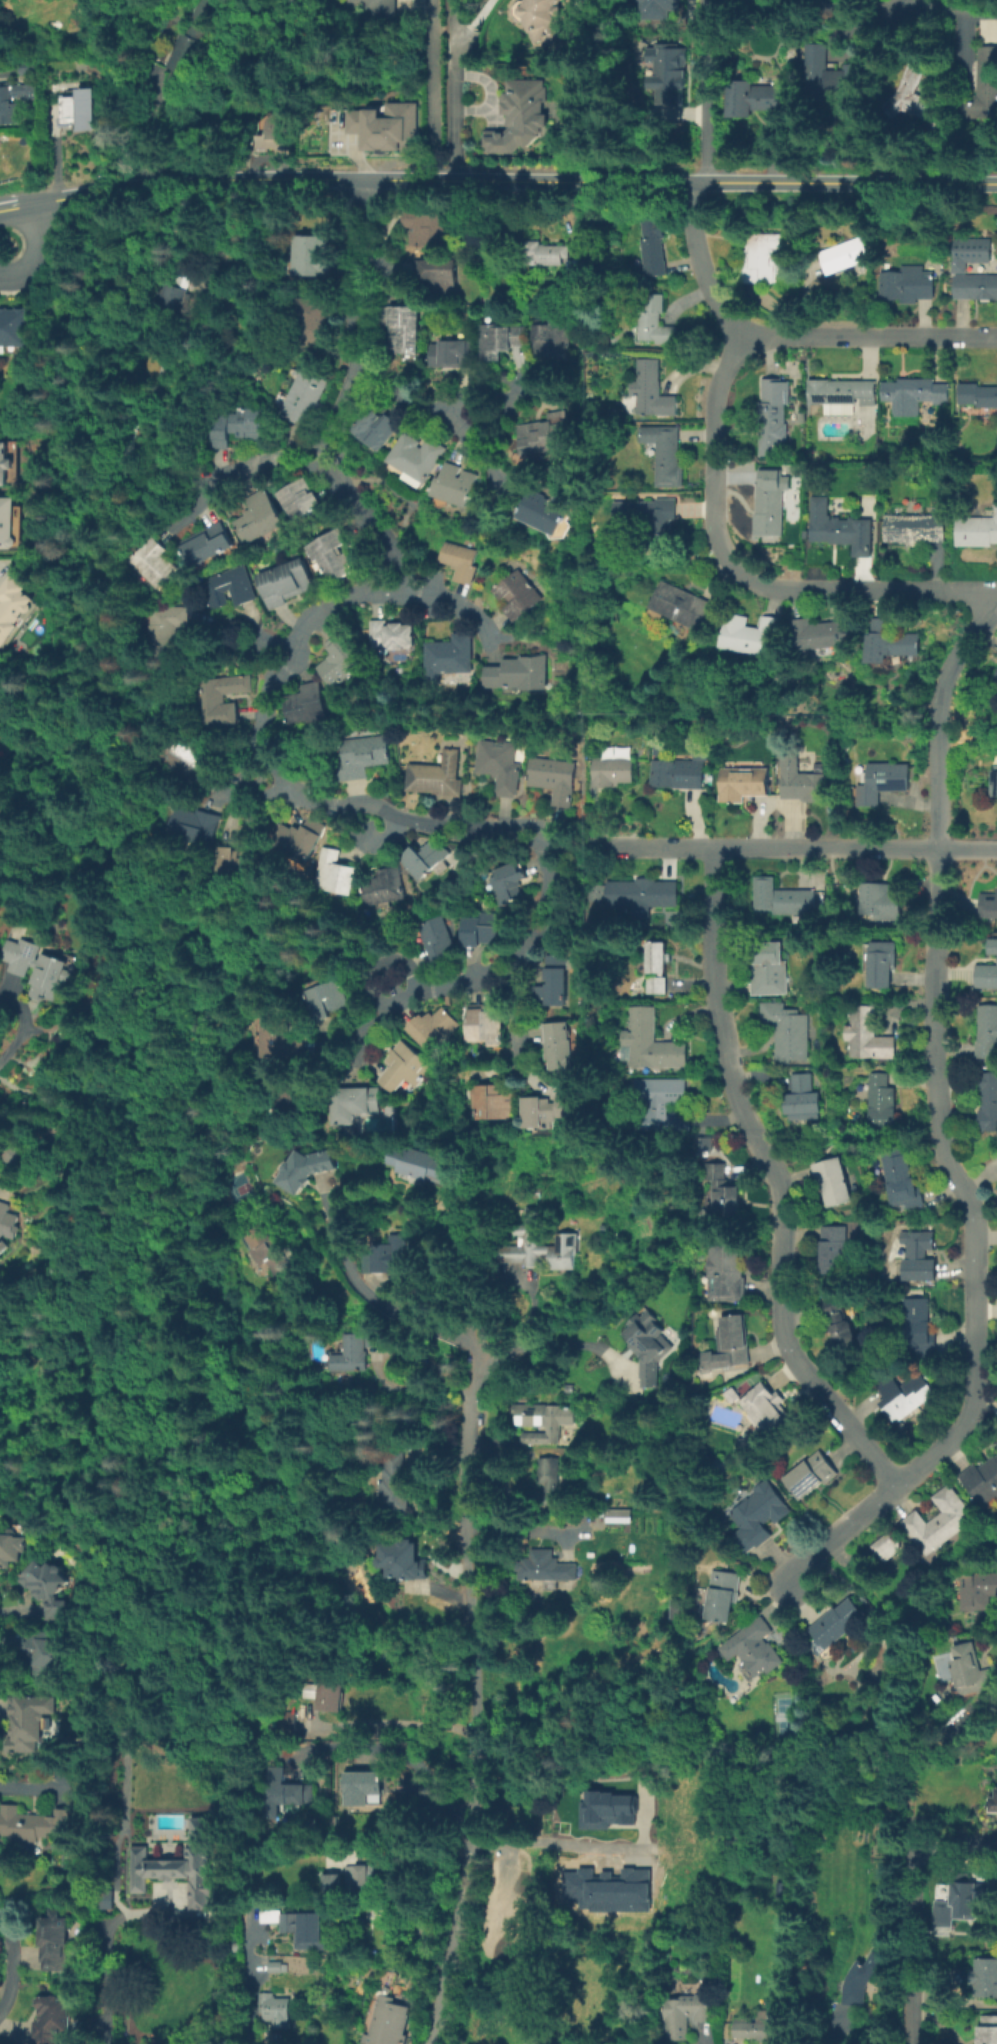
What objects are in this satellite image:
road: (418, 2)
road: (824, 3)
road: (857, 6)
building: (385, 7)
building: (655, 8)
road: (705, 15)
building: (544, 18)
road: (469, 19)
building: (189, 43)
building: (3, 48)
building: (26, 65)
building: (665, 72)
building: (828, 77)
building: (983, 85)
road: (430, 89)
road: (454, 89)
building: (756, 97)
building: (915, 98)
building: (13, 99)
road: (705, 105)
building: (81, 109)
building: (518, 112)
building: (386, 122)
building: (271, 132)
road: (351, 178)
road: (842, 180)
road: (359, 187)
road: (8, 207)
road: (32, 223)
road: (352, 226)
building: (426, 226)
road: (364, 227)
building: (650, 246)
road: (36, 250)
building: (970, 251)
building: (308, 253)
building: (544, 253)
building: (844, 254)
building: (760, 258)
road: (698, 265)
road: (358, 267)
building: (571, 268)
building: (436, 273)
building: (906, 283)
building: (975, 286)
building: (174, 298)
road: (365, 315)
road: (351, 316)
building: (651, 319)
building: (316, 320)
building: (15, 323)
building: (401, 326)
road: (872, 336)
building: (550, 337)
building: (499, 338)
building: (451, 352)
building: (158, 364)
road: (363, 366)
road: (375, 368)
road: (367, 379)
building: (649, 388)
building: (839, 390)
building: (912, 393)
building: (303, 394)
building: (976, 394)
road: (340, 402)
road: (498, 409)
building: (771, 415)
road: (450, 420)
building: (234, 422)
building: (374, 424)
building: (138, 425)
building: (545, 433)
road: (292, 448)
road: (311, 449)
road: (714, 451)
building: (663, 453)
building: (415, 455)
road: (333, 457)
road: (295, 461)
building: (3, 462)
road: (318, 466)
road: (223, 476)
building: (452, 484)
building: (298, 497)
building: (768, 500)
road: (356, 507)
building: (546, 509)
building: (258, 516)
building: (652, 517)
building: (12, 525)
building: (839, 527)
building: (912, 527)
building: (977, 528)
building: (200, 541)
building: (329, 552)
road: (398, 560)
building: (459, 560)
building: (151, 563)
road: (364, 563)
building: (283, 581)
building: (225, 585)
road: (866, 590)
road: (383, 592)
building: (516, 593)
building: (680, 603)
road: (452, 605)
building: (14, 611)
building: (165, 627)
building: (821, 632)
building: (389, 633)
building: (749, 635)
road: (272, 639)
building: (888, 641)
road: (294, 644)
building: (447, 653)
building: (338, 658)
building: (517, 671)
building: (996, 677)
building: (218, 694)
building: (306, 703)
road: (269, 738)
road: (254, 742)
building: (0, 745)
building: (360, 755)
building: (184, 760)
building: (498, 764)
building: (612, 767)
building: (676, 772)
building: (435, 775)
building: (798, 775)
building: (555, 777)
building: (880, 780)
building: (993, 781)
building: (741, 782)
road: (247, 786)
road: (344, 805)
road: (457, 819)
building: (191, 825)
road: (529, 826)
road: (493, 829)
road: (380, 834)
road: (456, 837)
building: (297, 839)
road: (522, 842)
road: (574, 845)
road: (661, 847)
road: (825, 848)
road: (966, 848)
building: (424, 857)
building: (232, 861)
building: (332, 871)
building: (508, 881)
building: (383, 885)
building: (643, 896)
building: (782, 898)
building: (880, 901)
road: (546, 904)
building: (988, 904)
building: (485, 928)
building: (437, 937)
building: (993, 945)
building: (884, 962)
road: (497, 964)
building: (38, 966)
building: (657, 966)
building: (768, 968)
building: (987, 975)
building: (553, 981)
road: (498, 986)
building: (325, 998)
road: (379, 1007)
road: (509, 1015)
building: (485, 1024)
building: (433, 1027)
building: (787, 1029)
building: (988, 1030)
road: (356, 1032)
building: (871, 1034)
building: (278, 1037)
building: (650, 1041)
building: (558, 1046)
building: (404, 1066)
building: (803, 1097)
building: (989, 1099)
building: (294, 1101)
building: (493, 1101)
building: (356, 1102)
building: (884, 1102)
building: (663, 1103)
building: (550, 1109)
road: (942, 1129)
building: (49, 1136)
building: (705, 1142)
building: (19, 1156)
building: (418, 1161)
building: (308, 1168)
road: (775, 1178)
building: (834, 1180)
building: (902, 1181)
building: (722, 1190)
building: (8, 1226)
building: (539, 1246)
building: (834, 1249)
building: (267, 1252)
building: (918, 1255)
building: (393, 1257)
building: (727, 1270)
road: (375, 1295)
building: (839, 1322)
building: (918, 1326)
building: (375, 1335)
road: (547, 1340)
building: (732, 1343)
building: (650, 1345)
building: (351, 1353)
building: (735, 1394)
building: (906, 1395)
building: (764, 1408)
building: (546, 1420)
road: (981, 1421)
building: (552, 1478)
building: (811, 1479)
building: (982, 1480)
building: (394, 1483)
building: (619, 1514)
building: (760, 1516)
building: (938, 1522)
road: (531, 1527)
building: (14, 1544)
building: (407, 1561)
building: (549, 1567)
building: (54, 1588)
building: (978, 1589)
building: (723, 1594)
building: (834, 1624)
building: (9, 1641)
building: (52, 1654)
building: (757, 1654)
building: (324, 1662)
building: (968, 1669)
building: (327, 1690)
road: (477, 1694)
building: (287, 1721)
building: (35, 1722)
road: (399, 1751)
building: (362, 1785)
building: (624, 1788)
building: (283, 1795)
building: (558, 1799)
building: (993, 1804)
building: (603, 1809)
building: (40, 1822)
road: (563, 1847)
building: (192, 1865)
building: (339, 1881)
building: (373, 1882)
building: (610, 1886)
building: (959, 1902)
road: (916, 1903)
building: (293, 1919)
building: (323, 1931)
building: (61, 1940)
road: (111, 1954)
building: (0, 1956)
road: (20, 1963)
building: (1, 1965)
building: (285, 1965)
building: (987, 1976)
building: (866, 1978)
building: (0, 1984)
road: (251, 1984)
building: (284, 2011)
building: (685, 2011)
building: (60, 2019)
building: (392, 2021)
building: (760, 2027)
building: (990, 2029)

